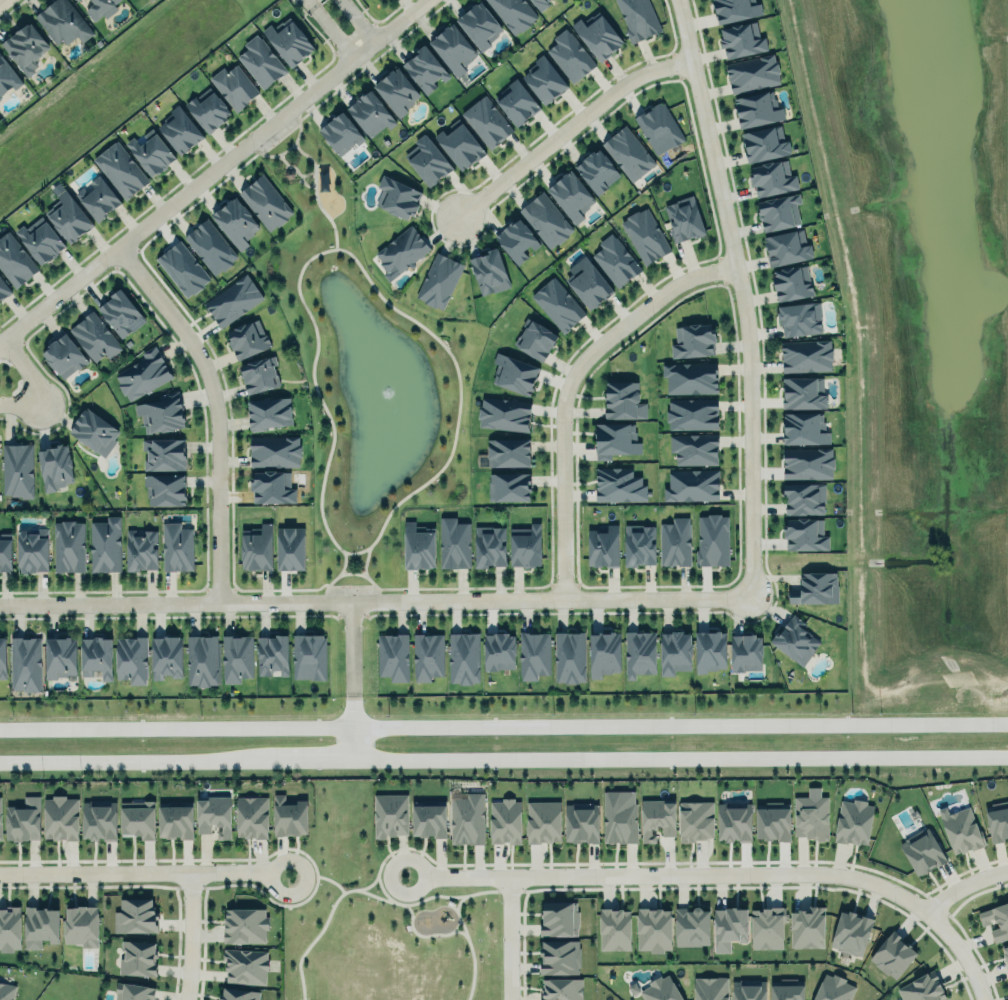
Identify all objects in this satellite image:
building: (77, 0)
road: (324, 1)
building: (538, 4)
building: (101, 9)
building: (735, 10)
building: (514, 14)
building: (638, 19)
building: (62, 21)
road: (343, 25)
building: (479, 26)
building: (598, 36)
building: (741, 40)
building: (289, 43)
building: (452, 46)
building: (26, 48)
building: (570, 56)
building: (262, 62)
building: (425, 69)
building: (753, 74)
building: (7, 78)
building: (545, 81)
building: (234, 87)
building: (397, 92)
building: (518, 103)
building: (207, 107)
building: (758, 110)
building: (371, 114)
building: (485, 120)
road: (566, 126)
building: (659, 128)
building: (180, 131)
building: (339, 132)
road: (278, 138)
building: (765, 144)
building: (460, 146)
road: (288, 148)
building: (151, 154)
building: (628, 154)
building: (428, 161)
building: (121, 170)
building: (597, 172)
building: (772, 179)
road: (315, 195)
building: (571, 196)
building: (397, 198)
building: (99, 200)
building: (266, 201)
road: (164, 205)
building: (780, 213)
building: (69, 218)
building: (545, 220)
building: (685, 220)
building: (236, 221)
building: (645, 236)
building: (40, 241)
building: (516, 241)
building: (210, 247)
building: (787, 248)
building: (401, 252)
building: (15, 261)
building: (615, 261)
building: (180, 268)
building: (489, 271)
building: (438, 281)
building: (792, 282)
building: (589, 285)
building: (3, 290)
road: (741, 295)
building: (233, 299)
building: (557, 305)
building: (119, 310)
building: (801, 320)
building: (95, 335)
building: (248, 337)
building: (535, 340)
building: (693, 341)
building: (64, 354)
building: (807, 356)
building: (143, 372)
building: (260, 372)
building: (515, 374)
building: (690, 378)
road: (566, 384)
fountain: (386, 392)
building: (804, 394)
building: (623, 402)
road: (213, 407)
building: (266, 410)
building: (161, 411)
building: (504, 413)
building: (693, 414)
building: (805, 429)
building: (94, 431)
building: (616, 441)
building: (694, 449)
building: (276, 450)
building: (508, 453)
building: (163, 454)
building: (806, 462)
building: (55, 464)
building: (18, 468)
building: (619, 485)
building: (692, 485)
building: (273, 486)
building: (165, 487)
building: (509, 487)
road: (413, 490)
building: (805, 499)
building: (806, 535)
building: (712, 540)
building: (675, 541)
building: (106, 542)
building: (455, 542)
building: (69, 544)
building: (177, 545)
building: (419, 545)
building: (491, 545)
building: (526, 545)
building: (639, 545)
building: (258, 546)
building: (291, 546)
building: (603, 547)
building: (33, 549)
building: (5, 550)
building: (141, 550)
road: (343, 561)
road: (364, 562)
road: (350, 572)
road: (351, 586)
building: (815, 589)
road: (375, 598)
building: (795, 641)
road: (350, 648)
building: (711, 649)
building: (499, 650)
building: (675, 650)
building: (640, 651)
building: (746, 651)
building: (603, 652)
building: (61, 655)
building: (96, 655)
building: (165, 655)
building: (272, 655)
building: (534, 655)
building: (3, 656)
building: (234, 656)
building: (568, 656)
building: (308, 657)
building: (393, 657)
building: (428, 657)
building: (464, 657)
building: (131, 658)
building: (202, 658)
building: (26, 662)
road: (350, 713)
road: (504, 728)
road: (350, 745)
road: (504, 761)
building: (214, 813)
building: (389, 814)
building: (252, 815)
building: (289, 815)
building: (61, 816)
building: (810, 816)
building: (619, 817)
building: (176, 818)
building: (429, 818)
building: (468, 818)
building: (24, 819)
building: (657, 819)
building: (98, 820)
building: (137, 820)
building: (694, 820)
building: (735, 820)
building: (854, 820)
building: (997, 820)
building: (505, 822)
building: (543, 822)
building: (581, 822)
building: (772, 822)
building: (0, 825)
building: (960, 830)
building: (922, 853)
road: (142, 863)
road: (672, 874)
road: (964, 883)
building: (135, 916)
building: (559, 917)
building: (996, 919)
building: (81, 924)
building: (692, 925)
building: (244, 926)
building: (10, 927)
building: (40, 927)
building: (613, 927)
building: (654, 928)
building: (729, 928)
building: (766, 928)
building: (807, 928)
building: (851, 931)
road: (191, 932)
road: (506, 937)
building: (1005, 951)
road: (961, 954)
building: (557, 955)
building: (892, 956)
building: (138, 958)
building: (245, 966)
building: (709, 987)
building: (923, 987)
building: (834, 988)
building: (561, 989)
building: (663, 989)
building: (787, 989)
building: (748, 990)
building: (7, 991)
building: (133, 991)
building: (238, 994)

